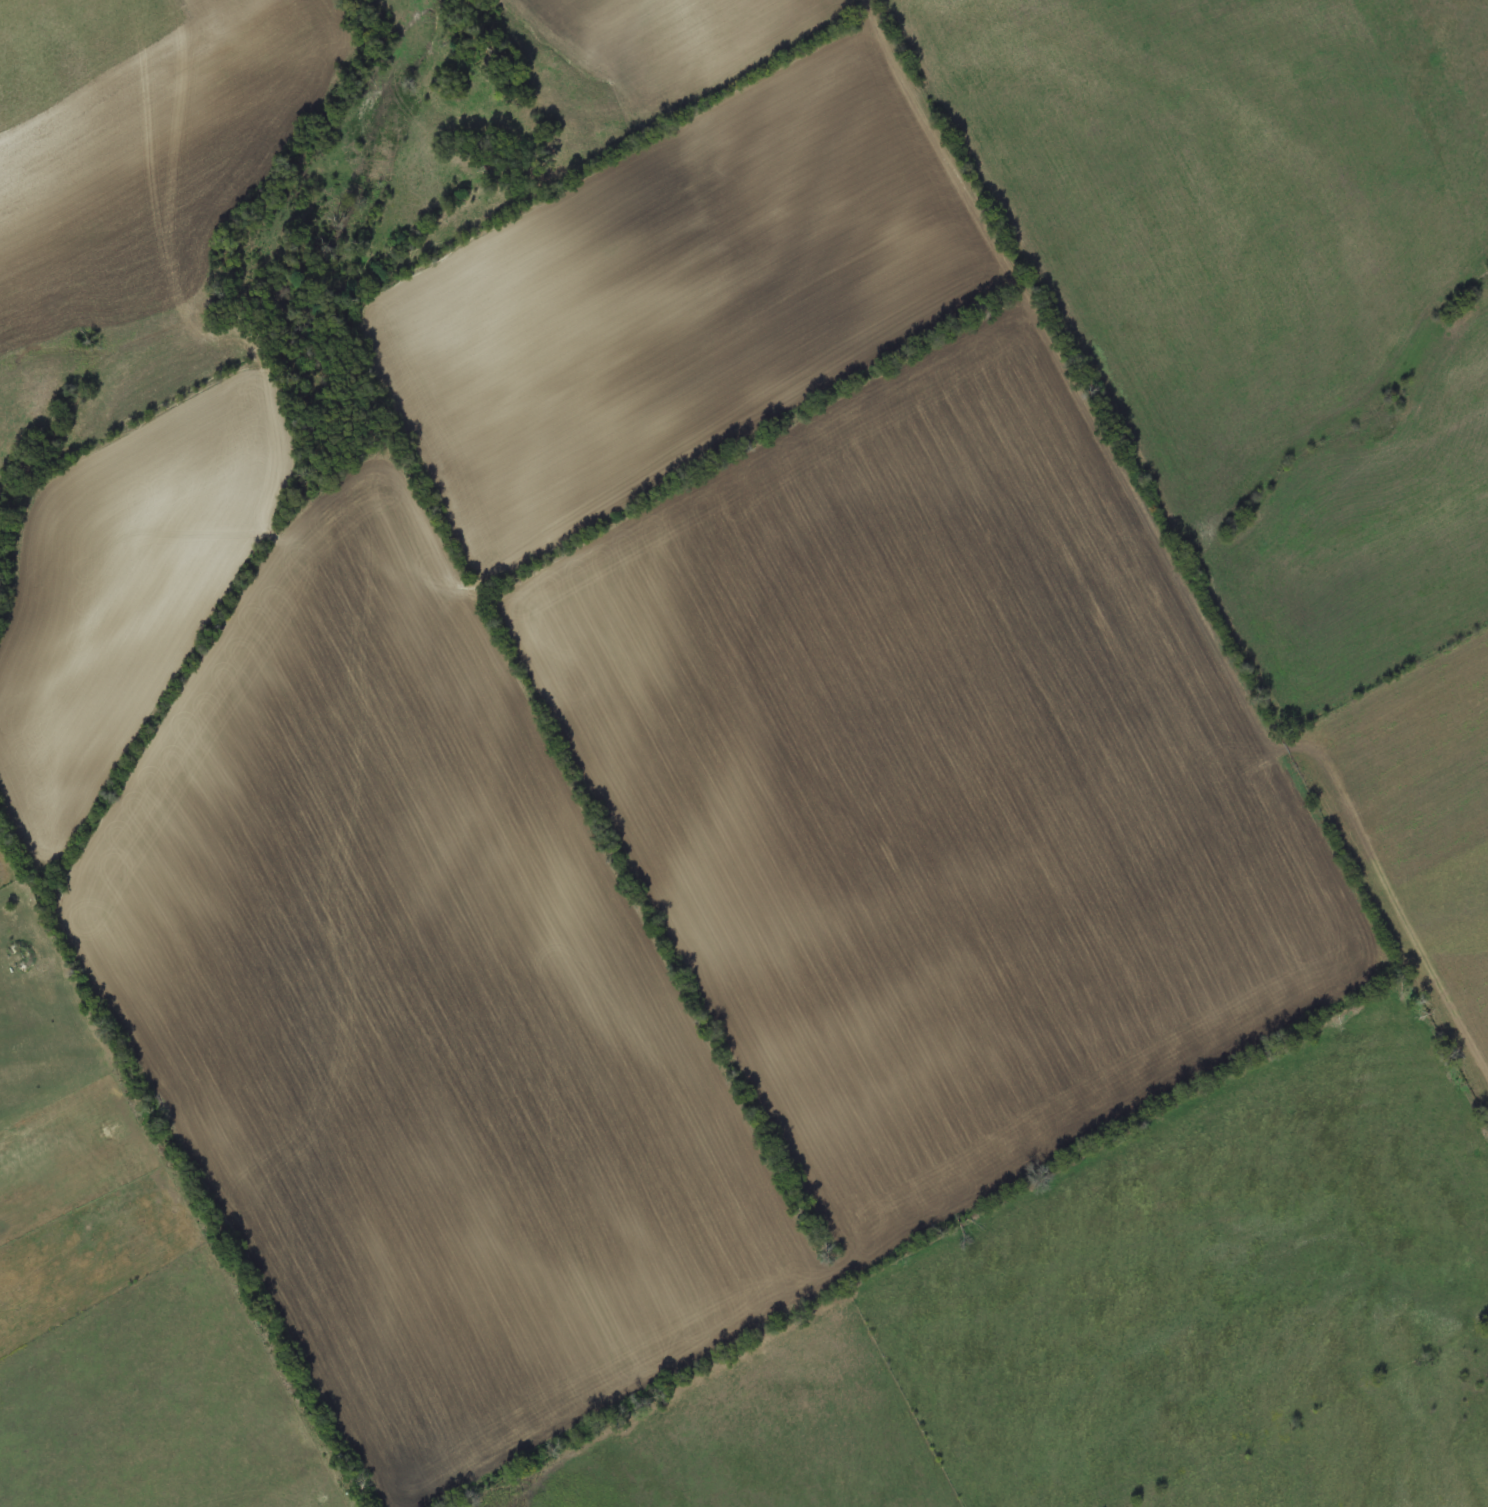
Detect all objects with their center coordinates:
building: (489, 163)

